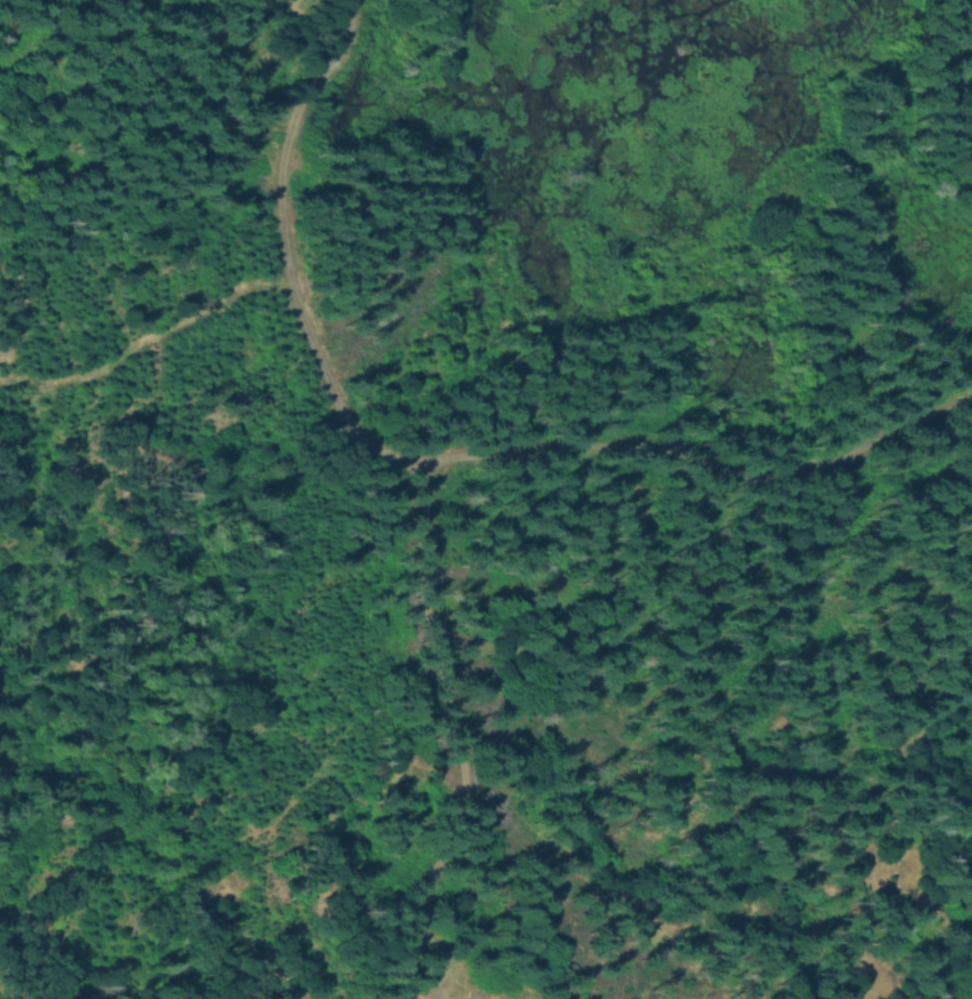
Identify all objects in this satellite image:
road: (437, 458)

